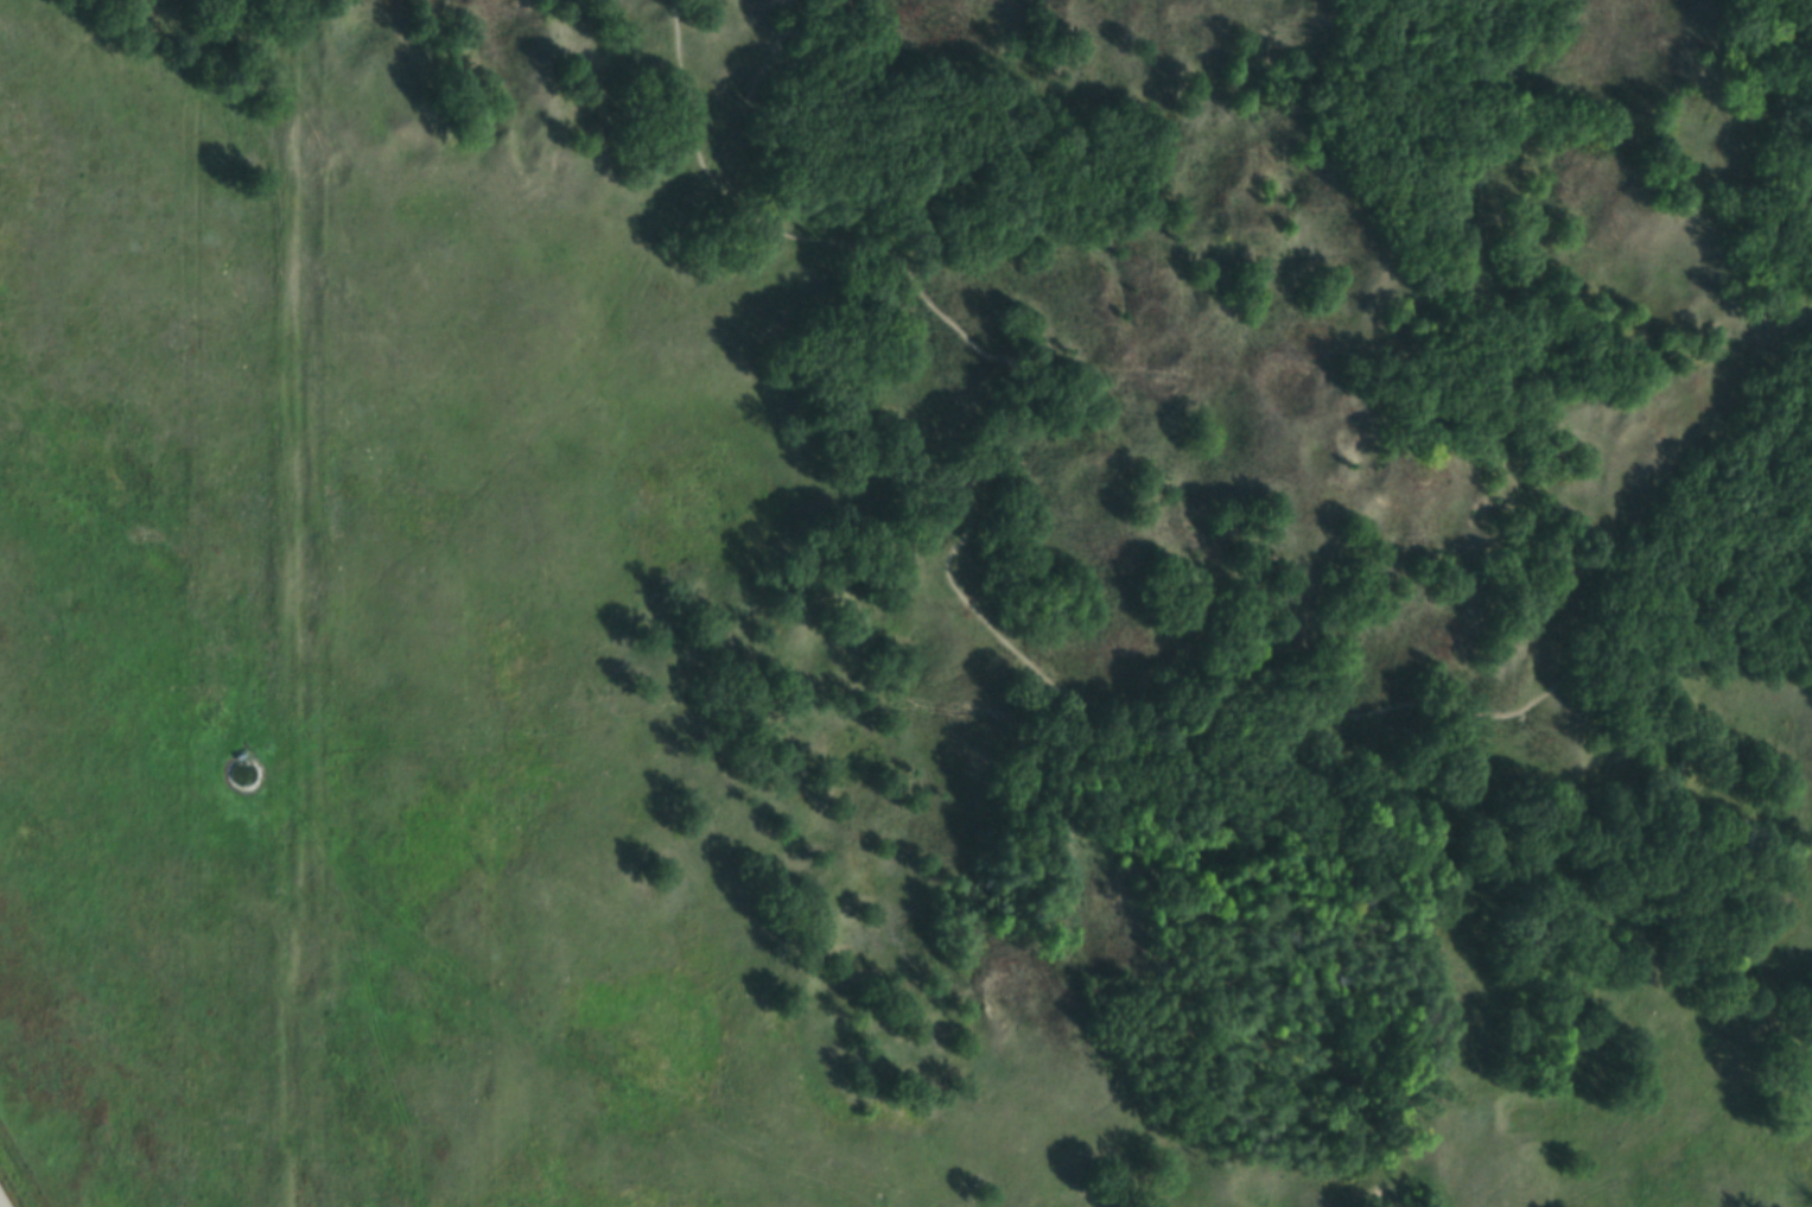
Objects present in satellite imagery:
road: (1003, 648)

